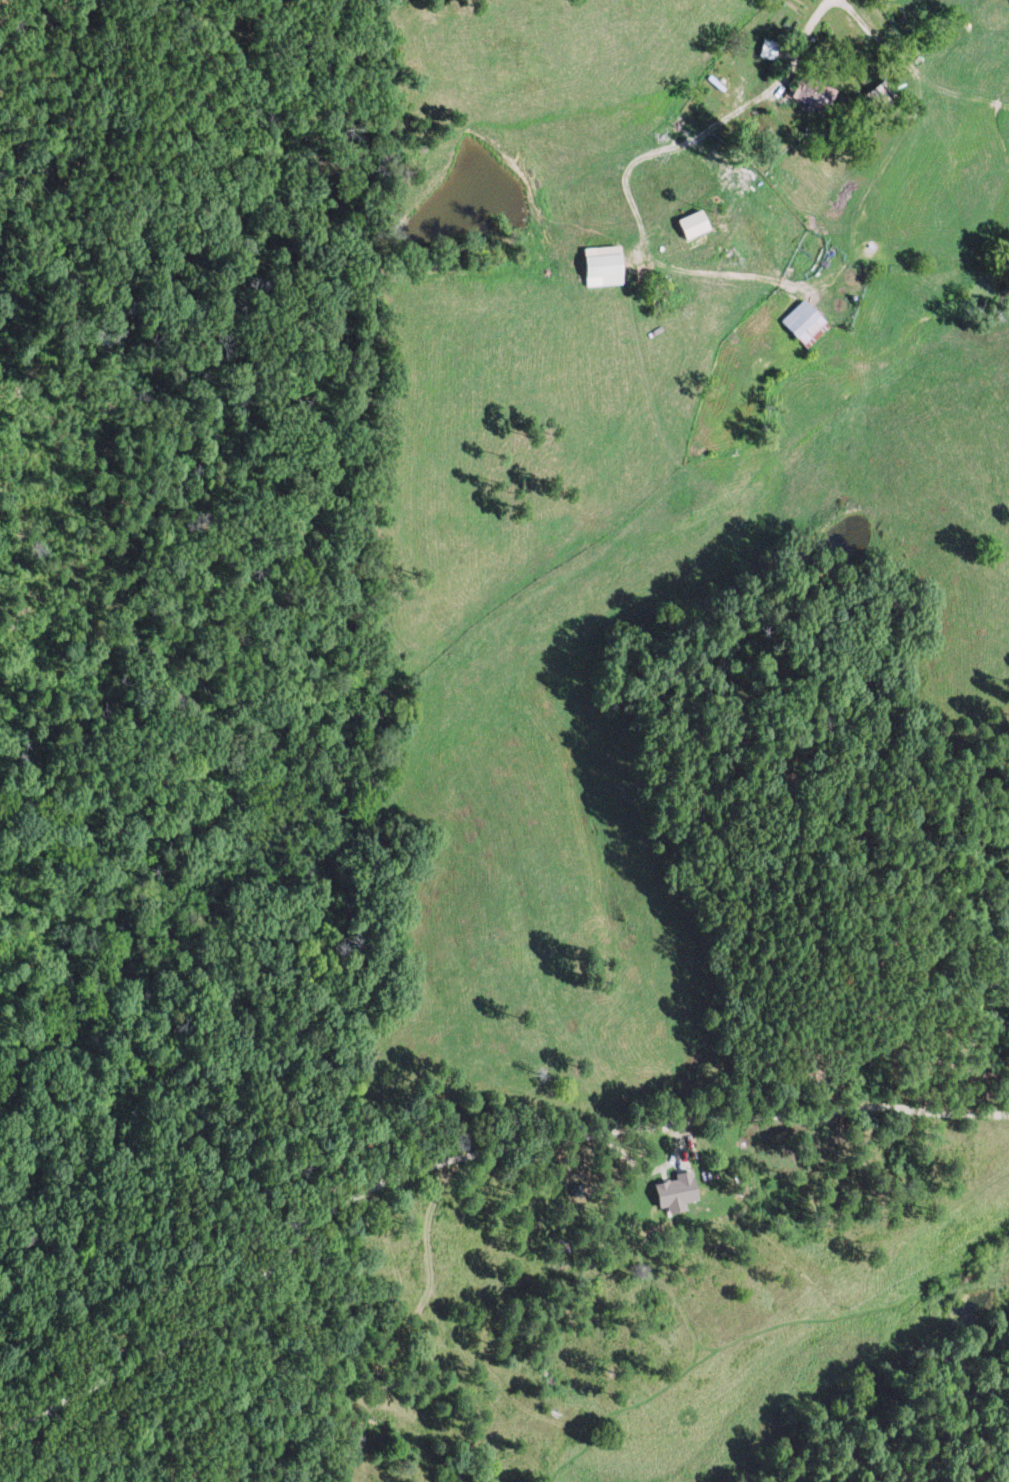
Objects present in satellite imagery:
road: (912, 67)
building: (819, 93)
building: (697, 223)
building: (606, 268)
building: (810, 322)
road: (468, 1171)
building: (690, 1183)

